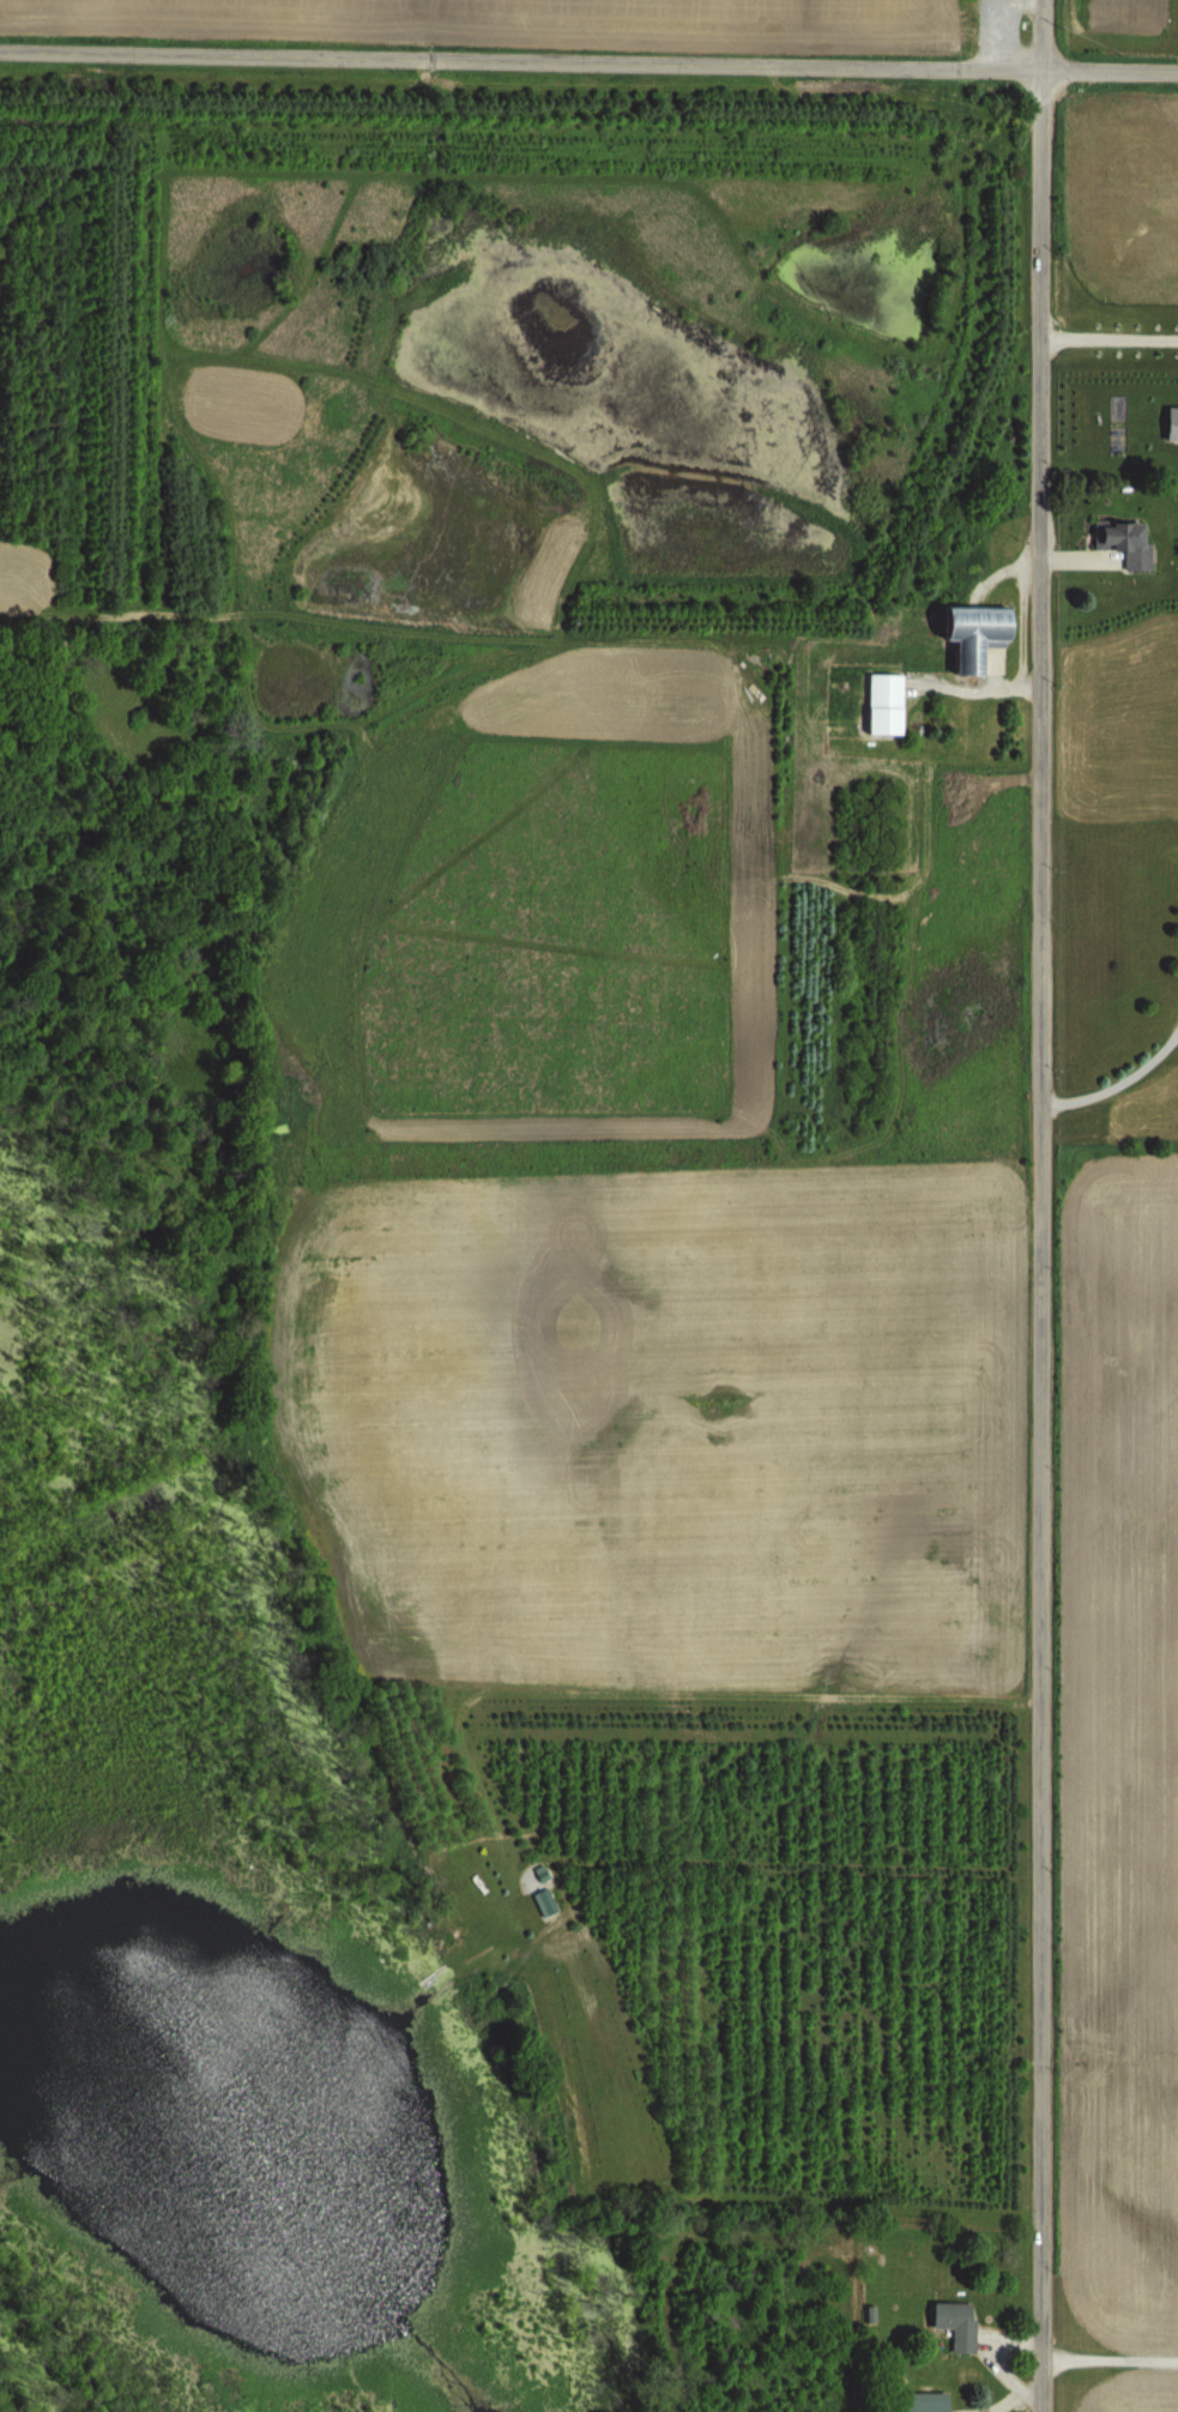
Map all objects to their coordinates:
road: (588, 64)
road: (1105, 336)
building: (1117, 541)
building: (965, 632)
road: (977, 687)
building: (878, 701)
road: (1114, 1084)
road: (1034, 1205)
building: (540, 1901)
building: (953, 2322)
road: (1106, 2357)
building: (916, 2401)

